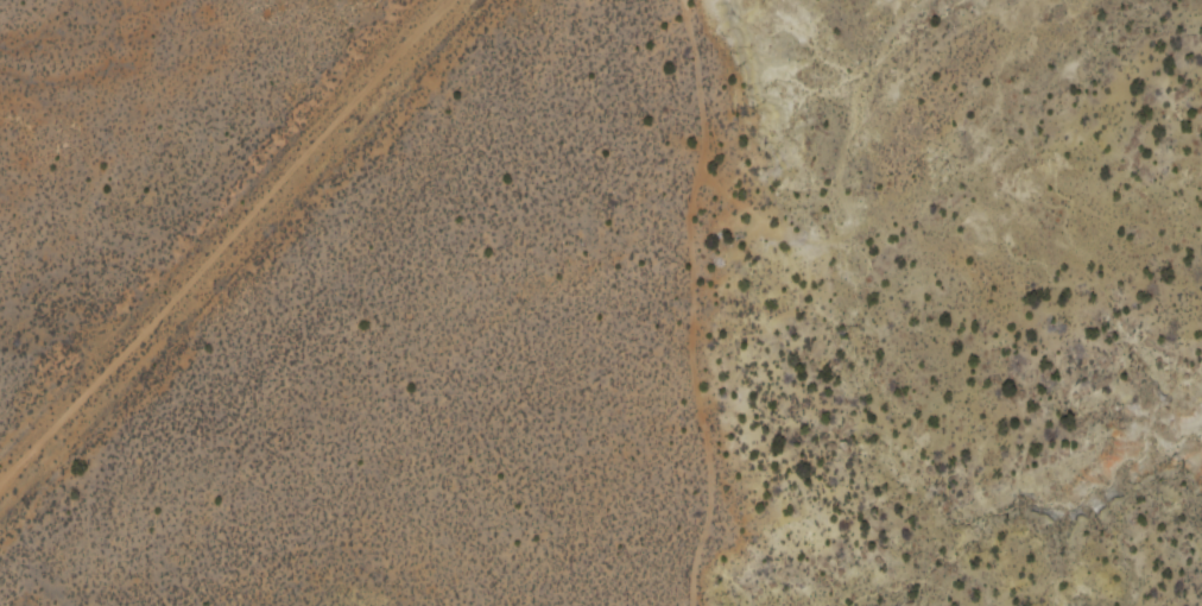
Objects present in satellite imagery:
road: (208, 225)

